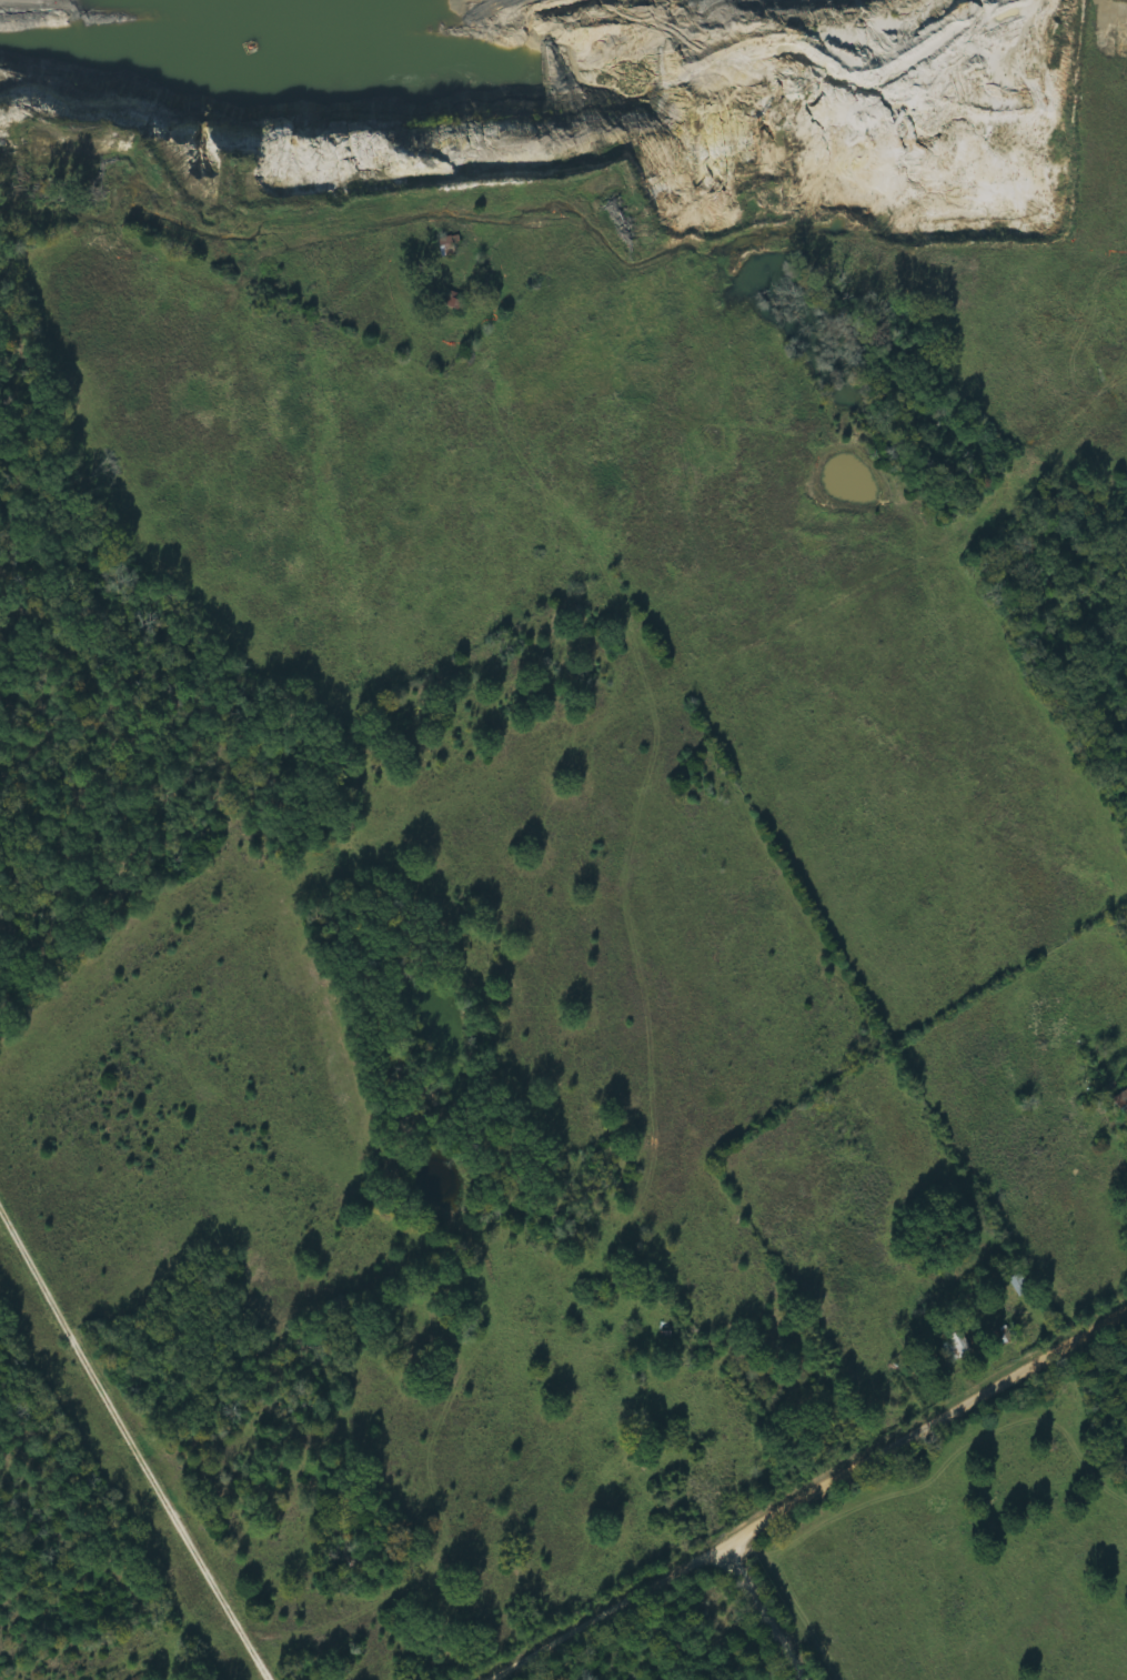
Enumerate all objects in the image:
road: (806, 1499)
road: (771, 1611)

